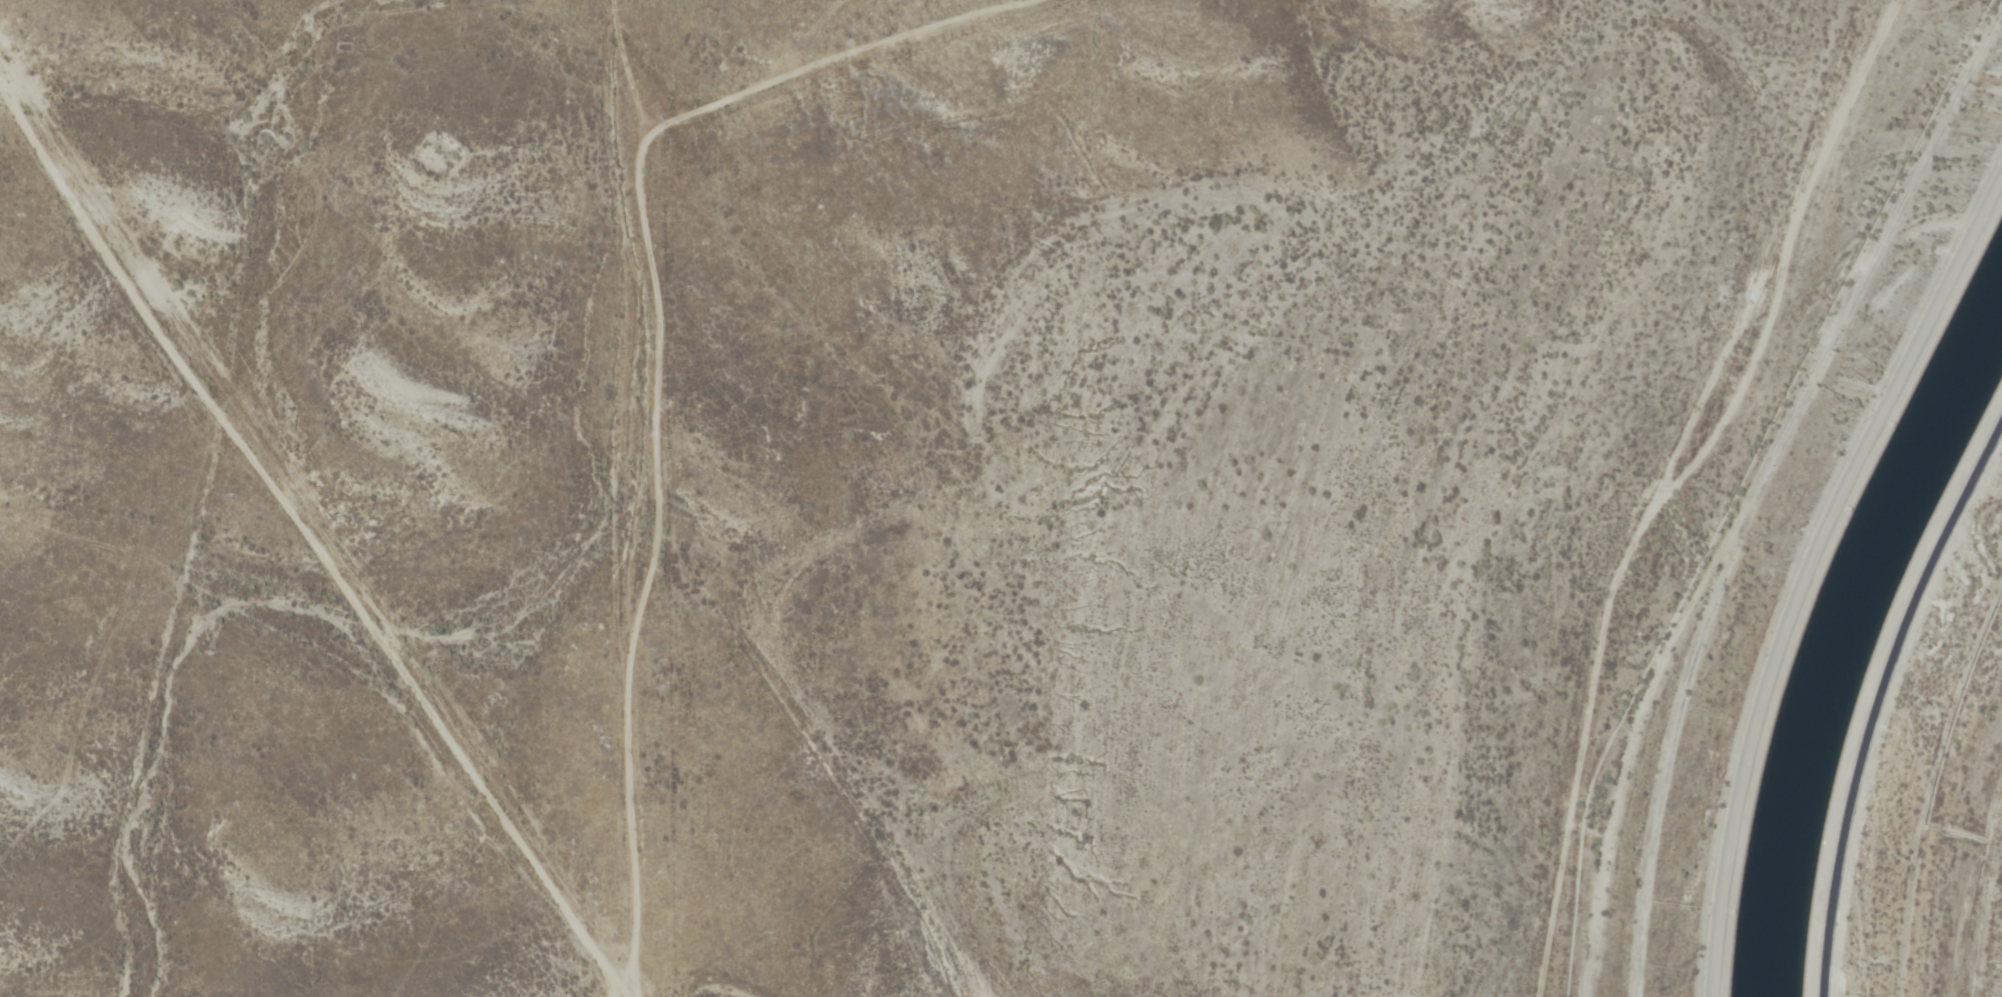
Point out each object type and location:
road: (187, 402)
crop: (323, 478)
road: (656, 495)
road: (1807, 570)
road: (365, 695)
road: (1879, 700)
road: (846, 748)

